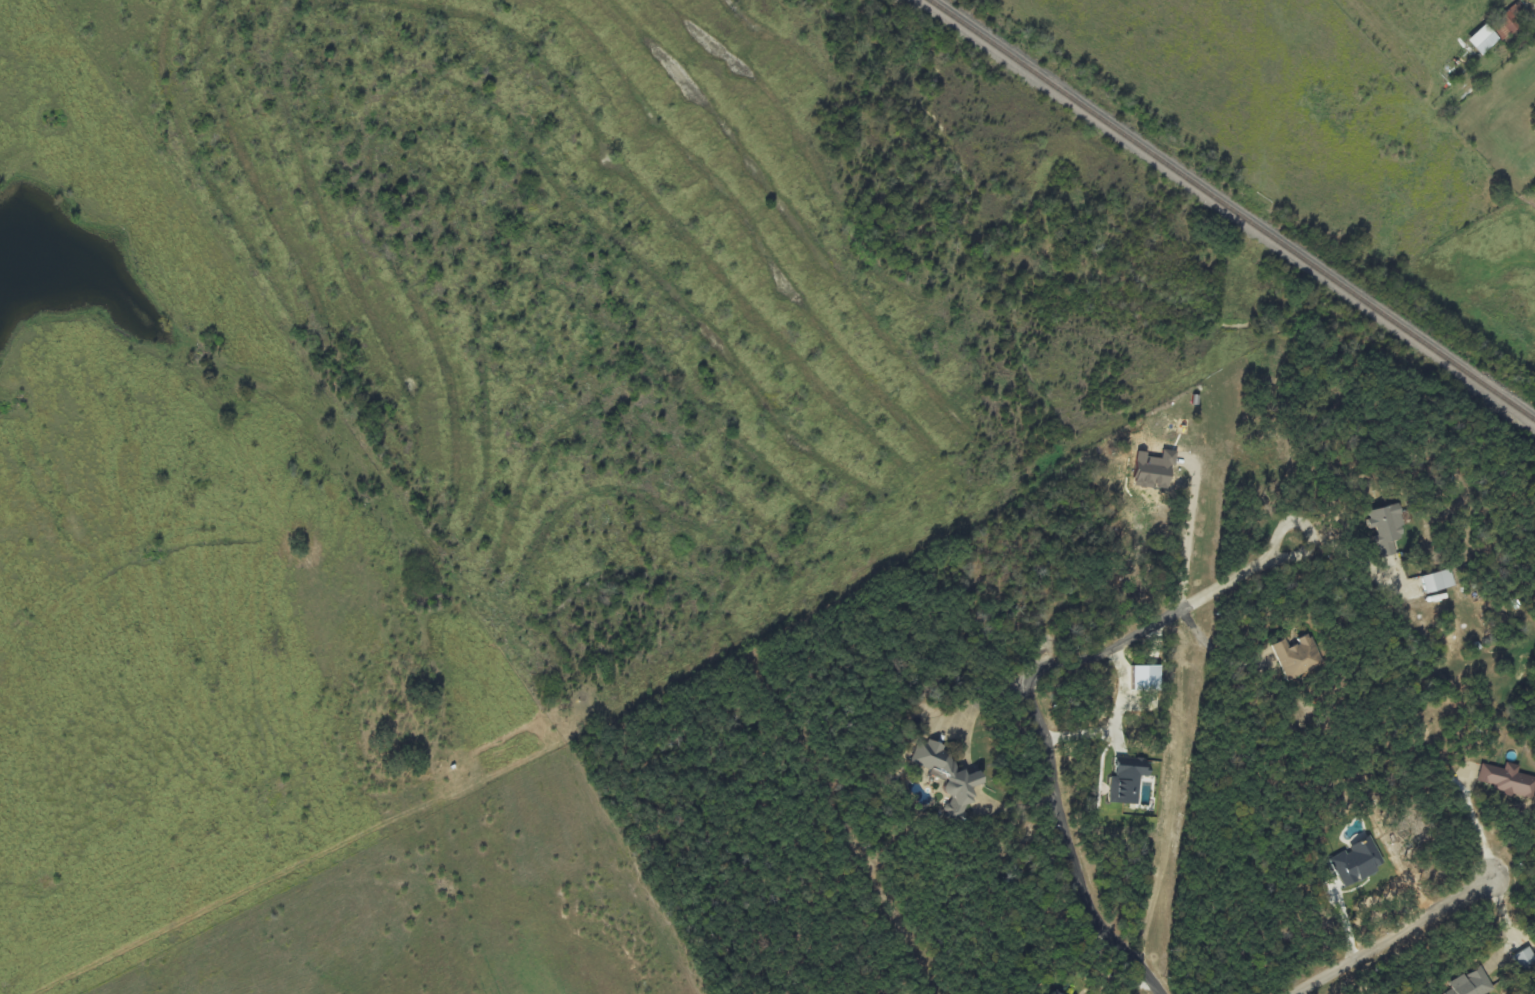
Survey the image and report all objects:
building: (1496, 31)
railway: (1229, 209)
building: (1155, 470)
building: (1388, 528)
building: (1439, 582)
road: (1166, 619)
building: (1299, 657)
building: (1147, 679)
building: (949, 777)
building: (1508, 780)
road: (1072, 848)
building: (1364, 862)
road: (1395, 936)
building: (1526, 959)
building: (1472, 983)

